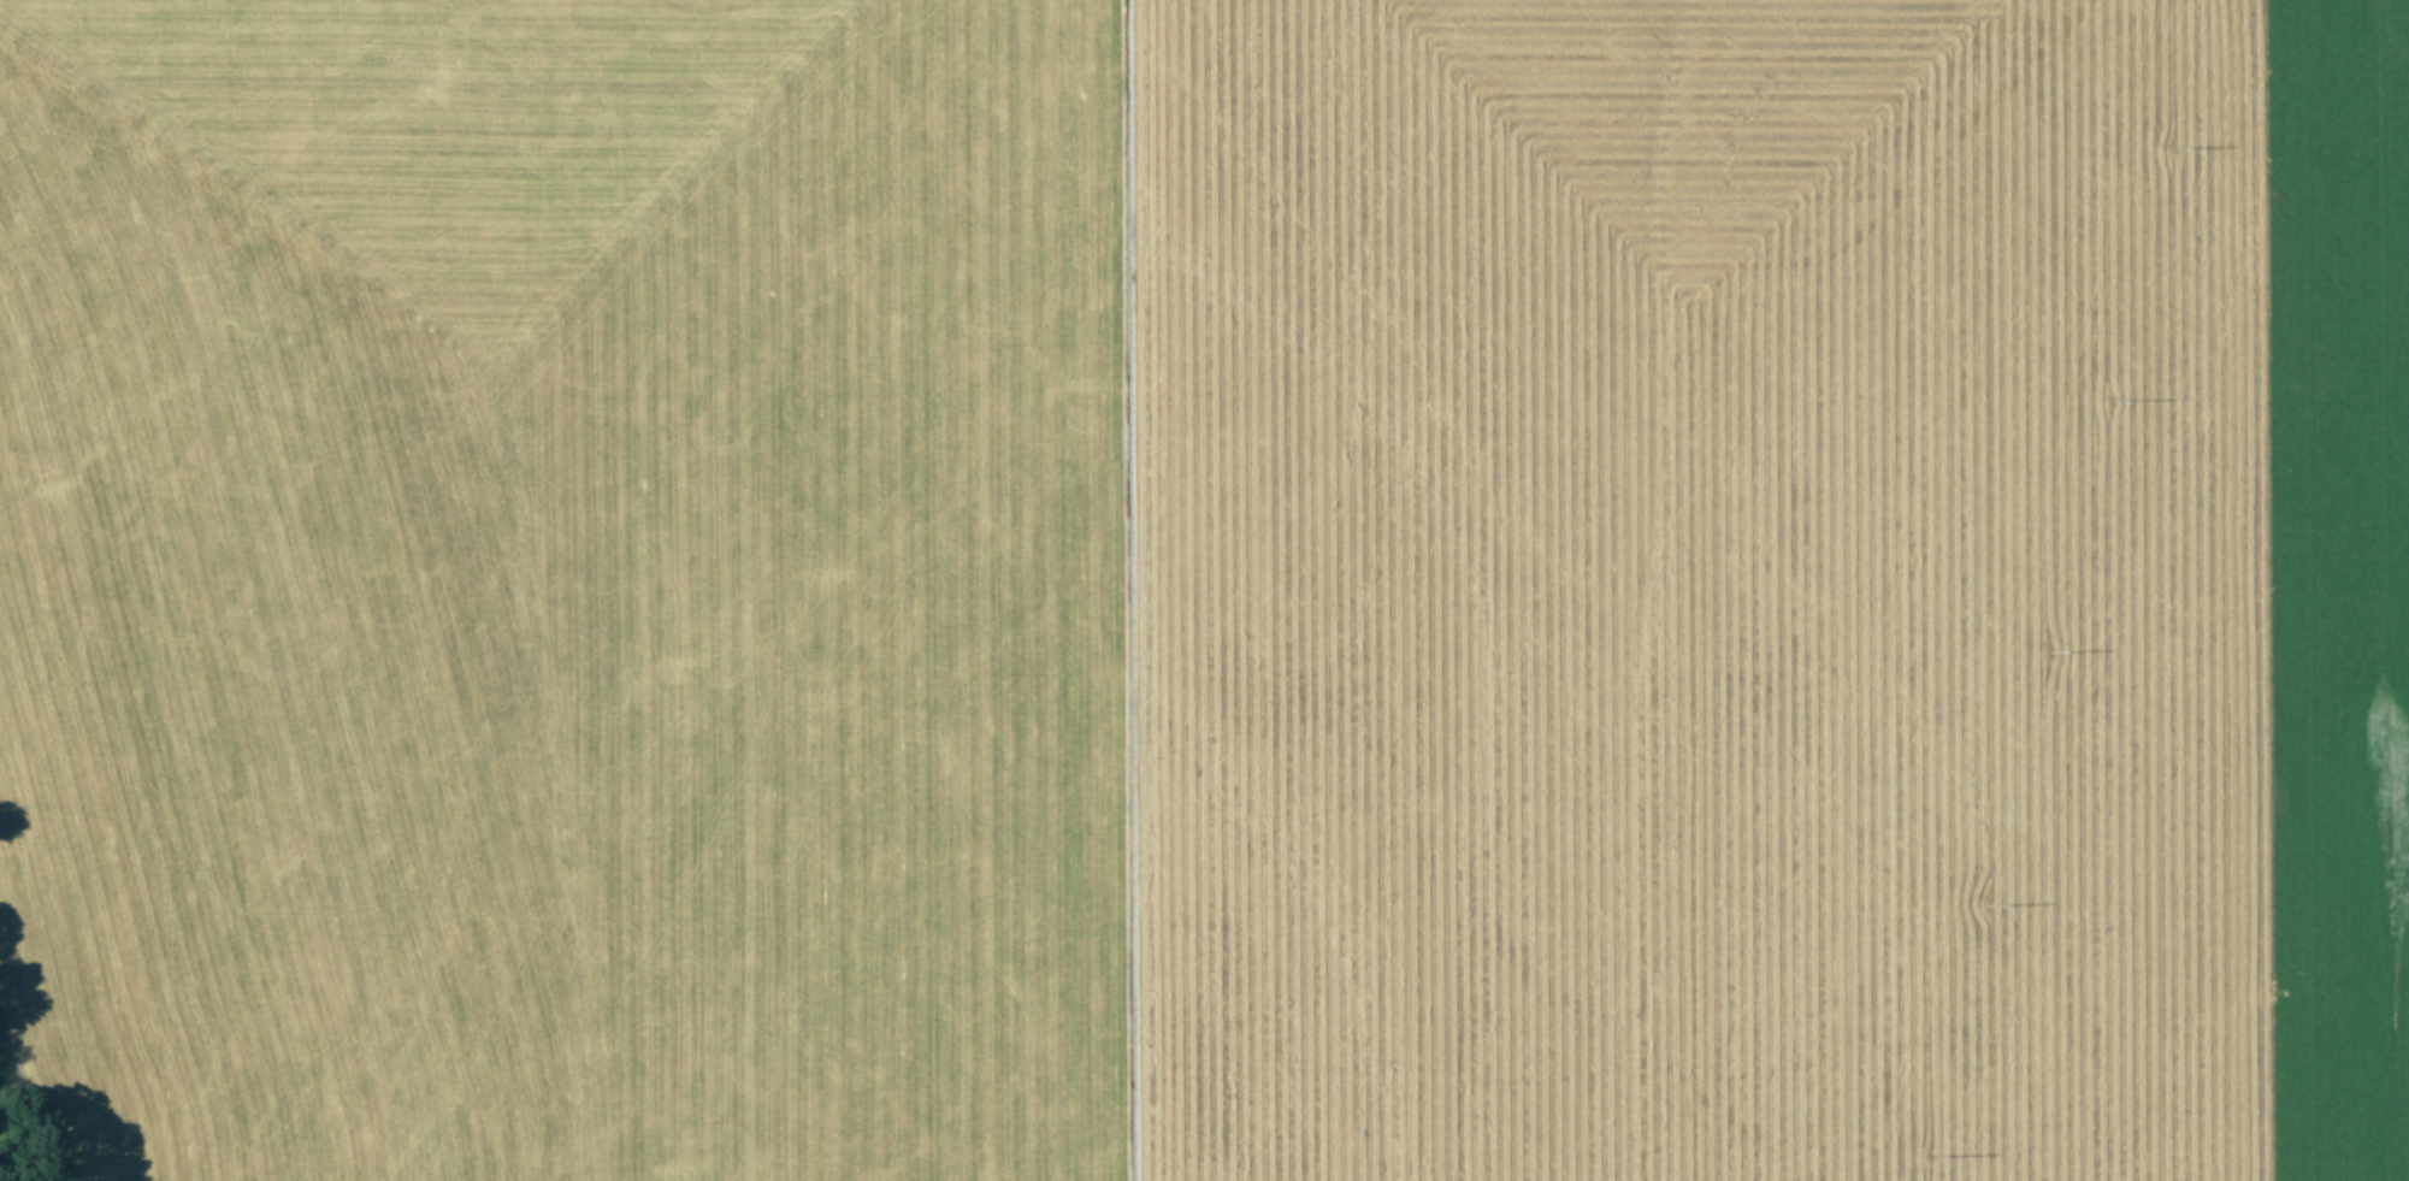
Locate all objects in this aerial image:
crop: (1205, 589)

